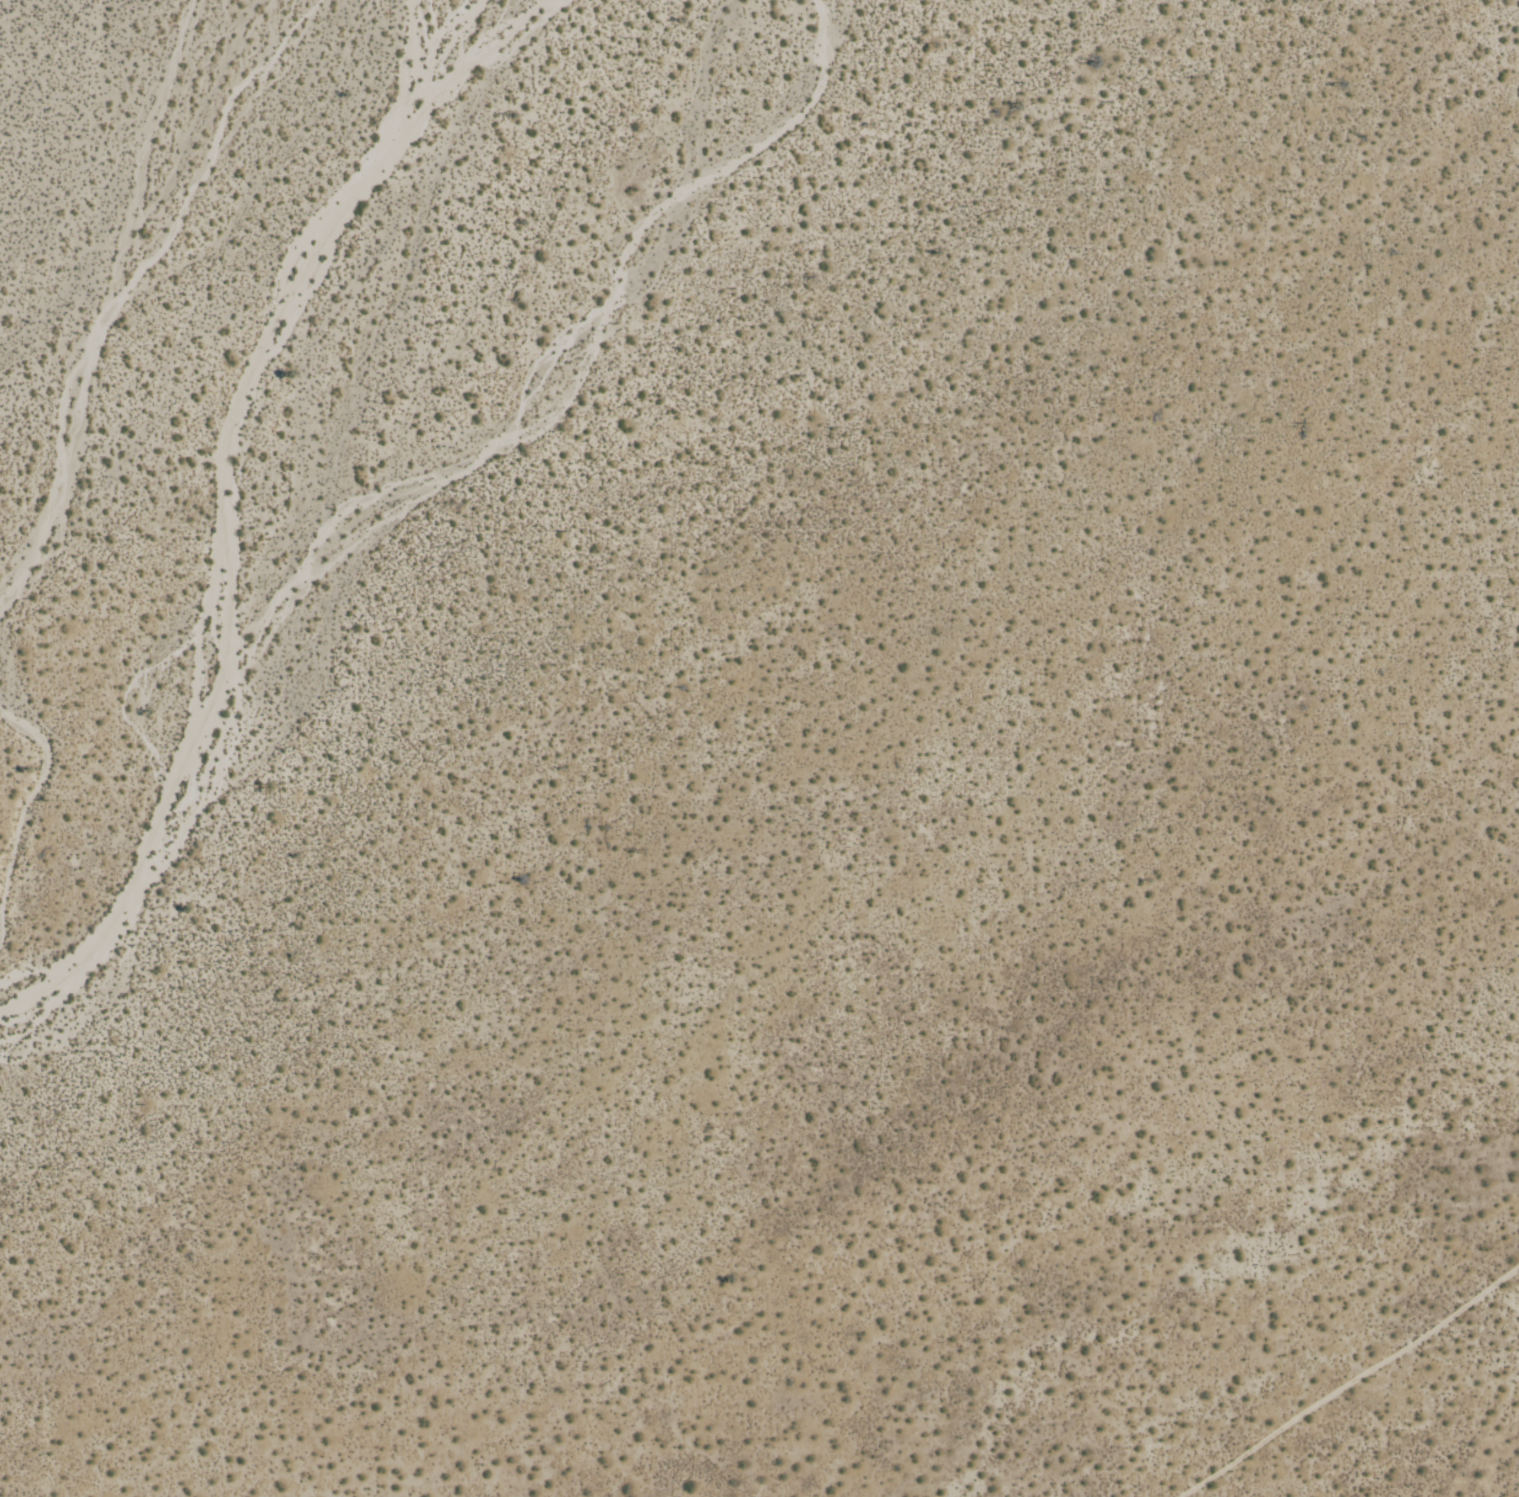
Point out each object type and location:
road: (1347, 1381)

